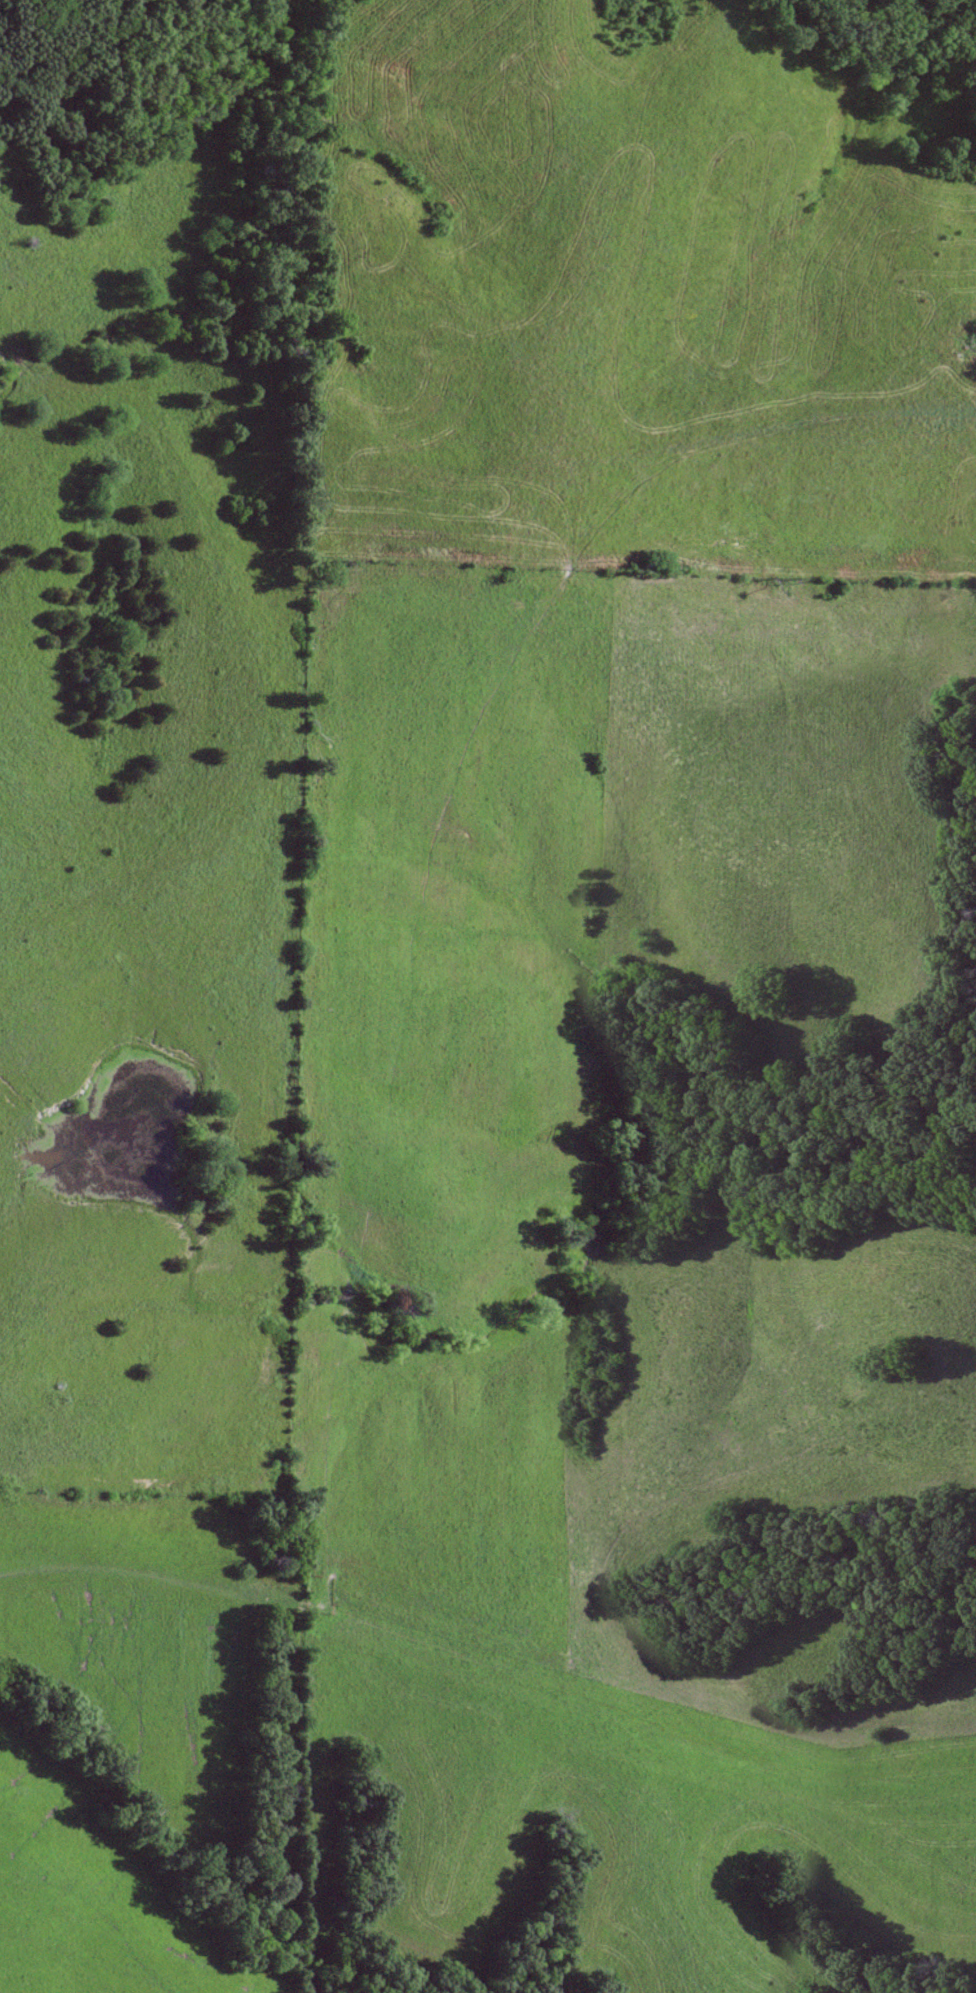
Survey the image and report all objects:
road: (179, 1528)

